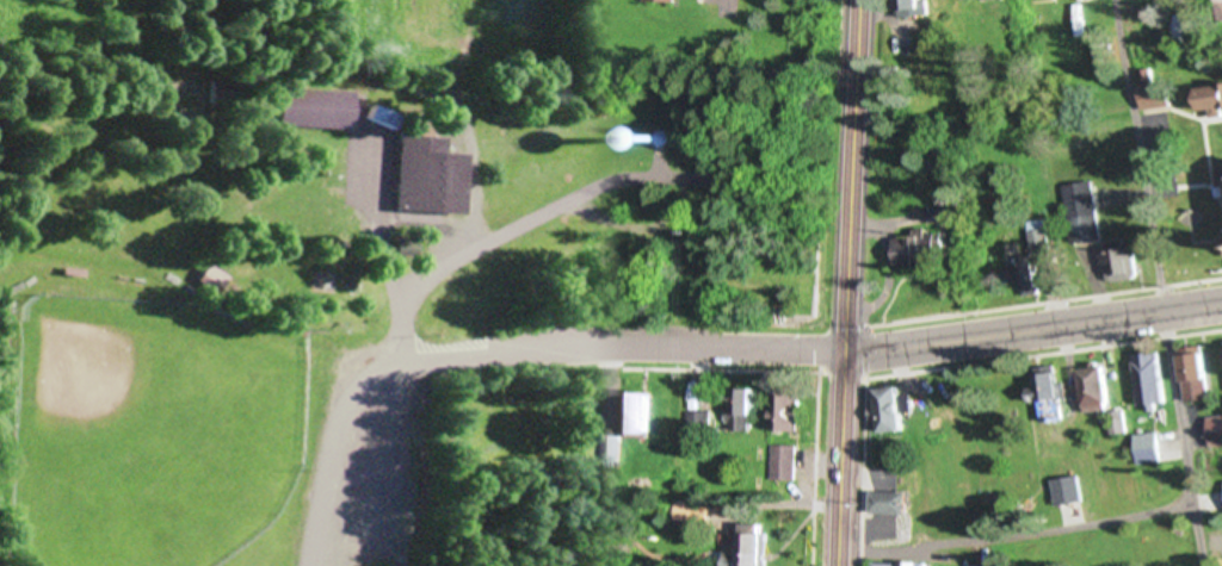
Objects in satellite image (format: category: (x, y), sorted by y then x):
building: (969, 0)
building: (1073, 0)
building: (660, 1)
building: (1220, 5)
road: (728, 6)
building: (916, 8)
building: (1134, 17)
crop: (445, 36)
building: (1154, 91)
building: (227, 92)
building: (1208, 98)
building: (314, 107)
building: (381, 116)
water tower: (653, 135)
building: (658, 138)
building: (427, 174)
building: (723, 176)
building: (1221, 176)
building: (1082, 211)
building: (950, 213)
road: (505, 232)
building: (403, 244)
building: (922, 249)
building: (1031, 259)
building: (1121, 260)
building: (212, 276)
park: (353, 280)
road: (846, 282)
road: (1159, 282)
building: (319, 284)
water tower: (440, 316)
road: (1032, 330)
road: (594, 347)
building: (1196, 374)
building: (1150, 378)
building: (1096, 391)
building: (1047, 393)
building: (788, 409)
building: (891, 409)
building: (743, 410)
building: (641, 413)
building: (701, 423)
building: (1118, 424)
building: (1216, 431)
building: (1149, 447)
building: (612, 448)
building: (785, 461)
road: (325, 474)
building: (1214, 490)
building: (1067, 491)
building: (891, 502)
road: (1016, 535)
building: (748, 547)
building: (897, 564)

